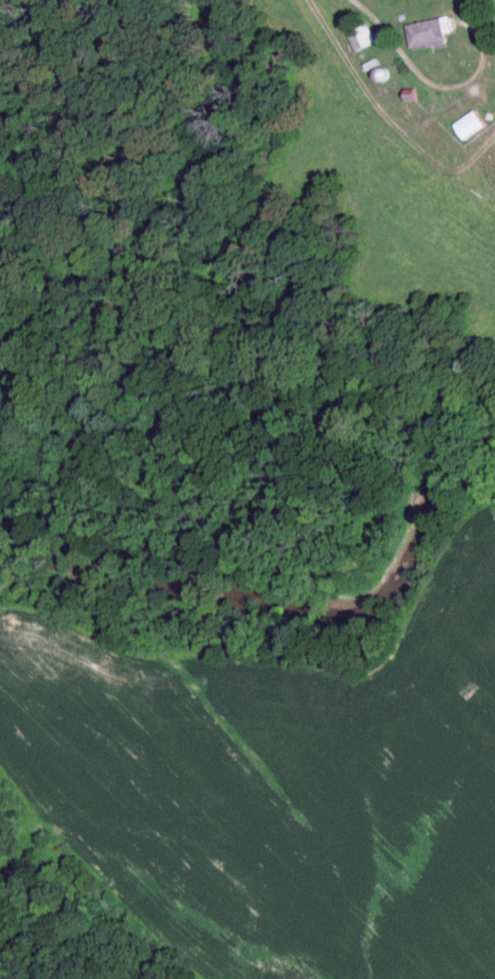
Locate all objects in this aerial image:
building: (476, 6)
building: (428, 34)
building: (361, 39)
road: (380, 125)
building: (470, 127)
building: (494, 151)
river: (294, 600)

